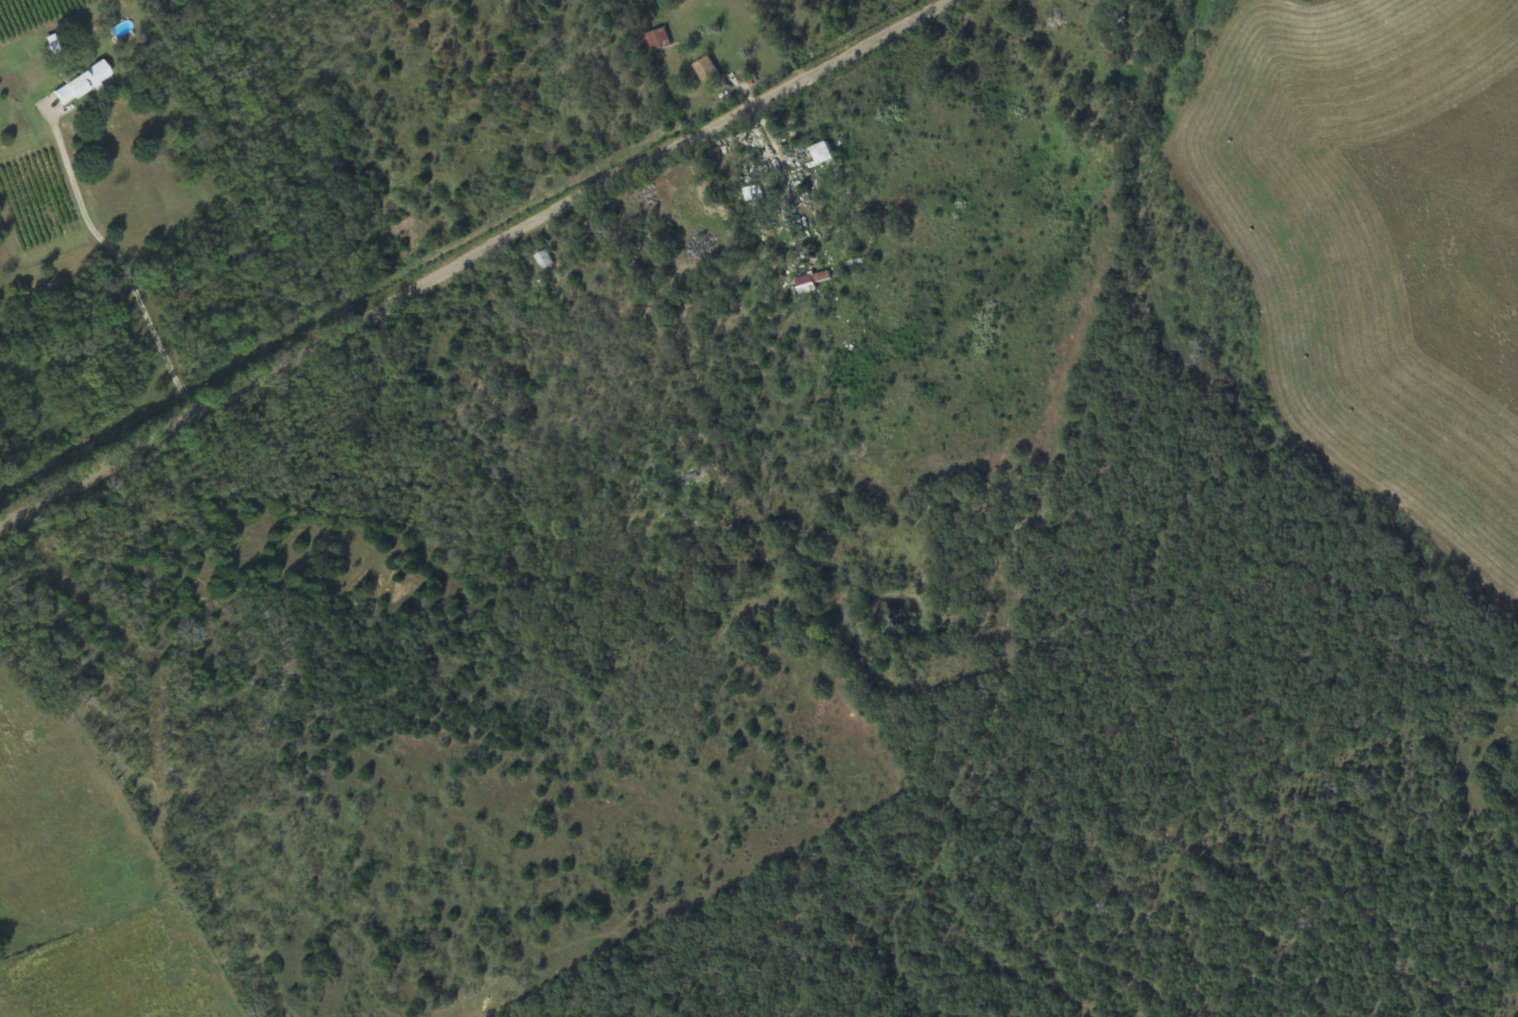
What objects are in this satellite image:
building: (655, 41)
building: (51, 45)
building: (704, 72)
building: (80, 83)
building: (818, 155)
road: (474, 256)
building: (543, 261)
building: (809, 283)

